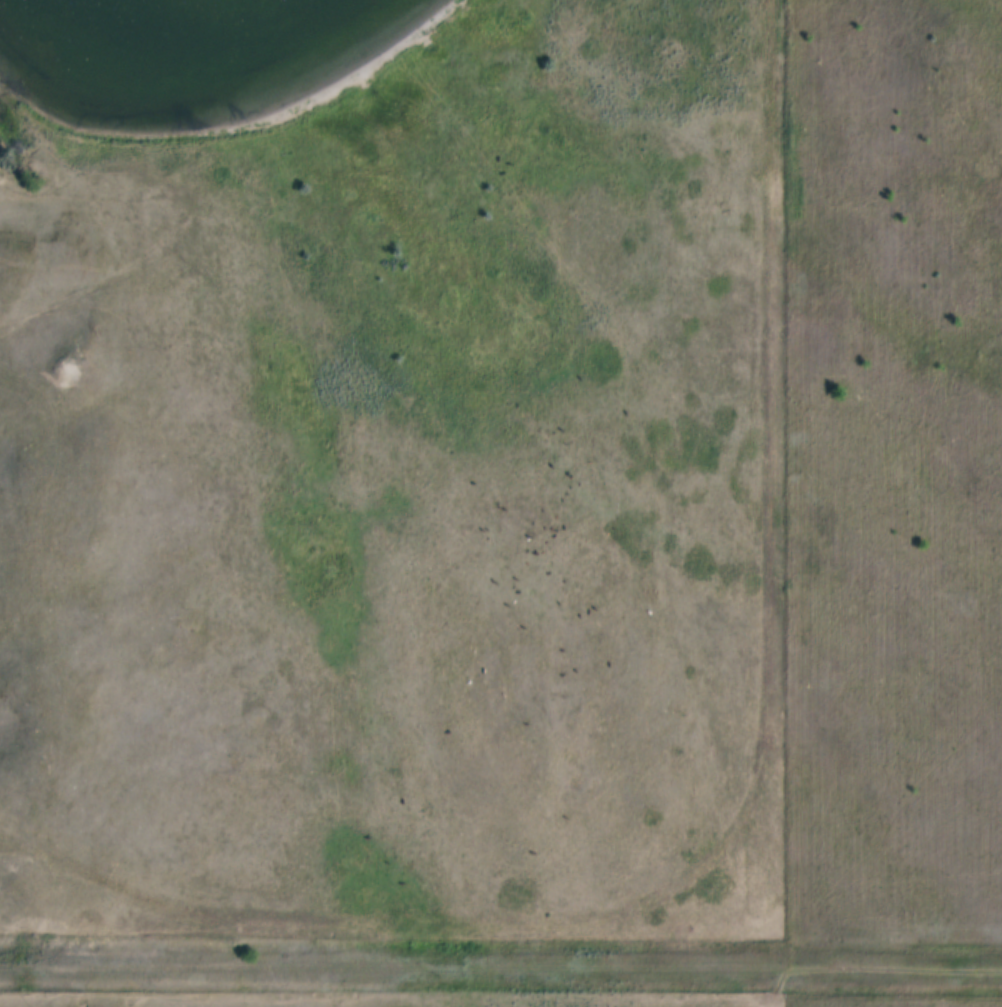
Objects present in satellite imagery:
road: (501, 960)

